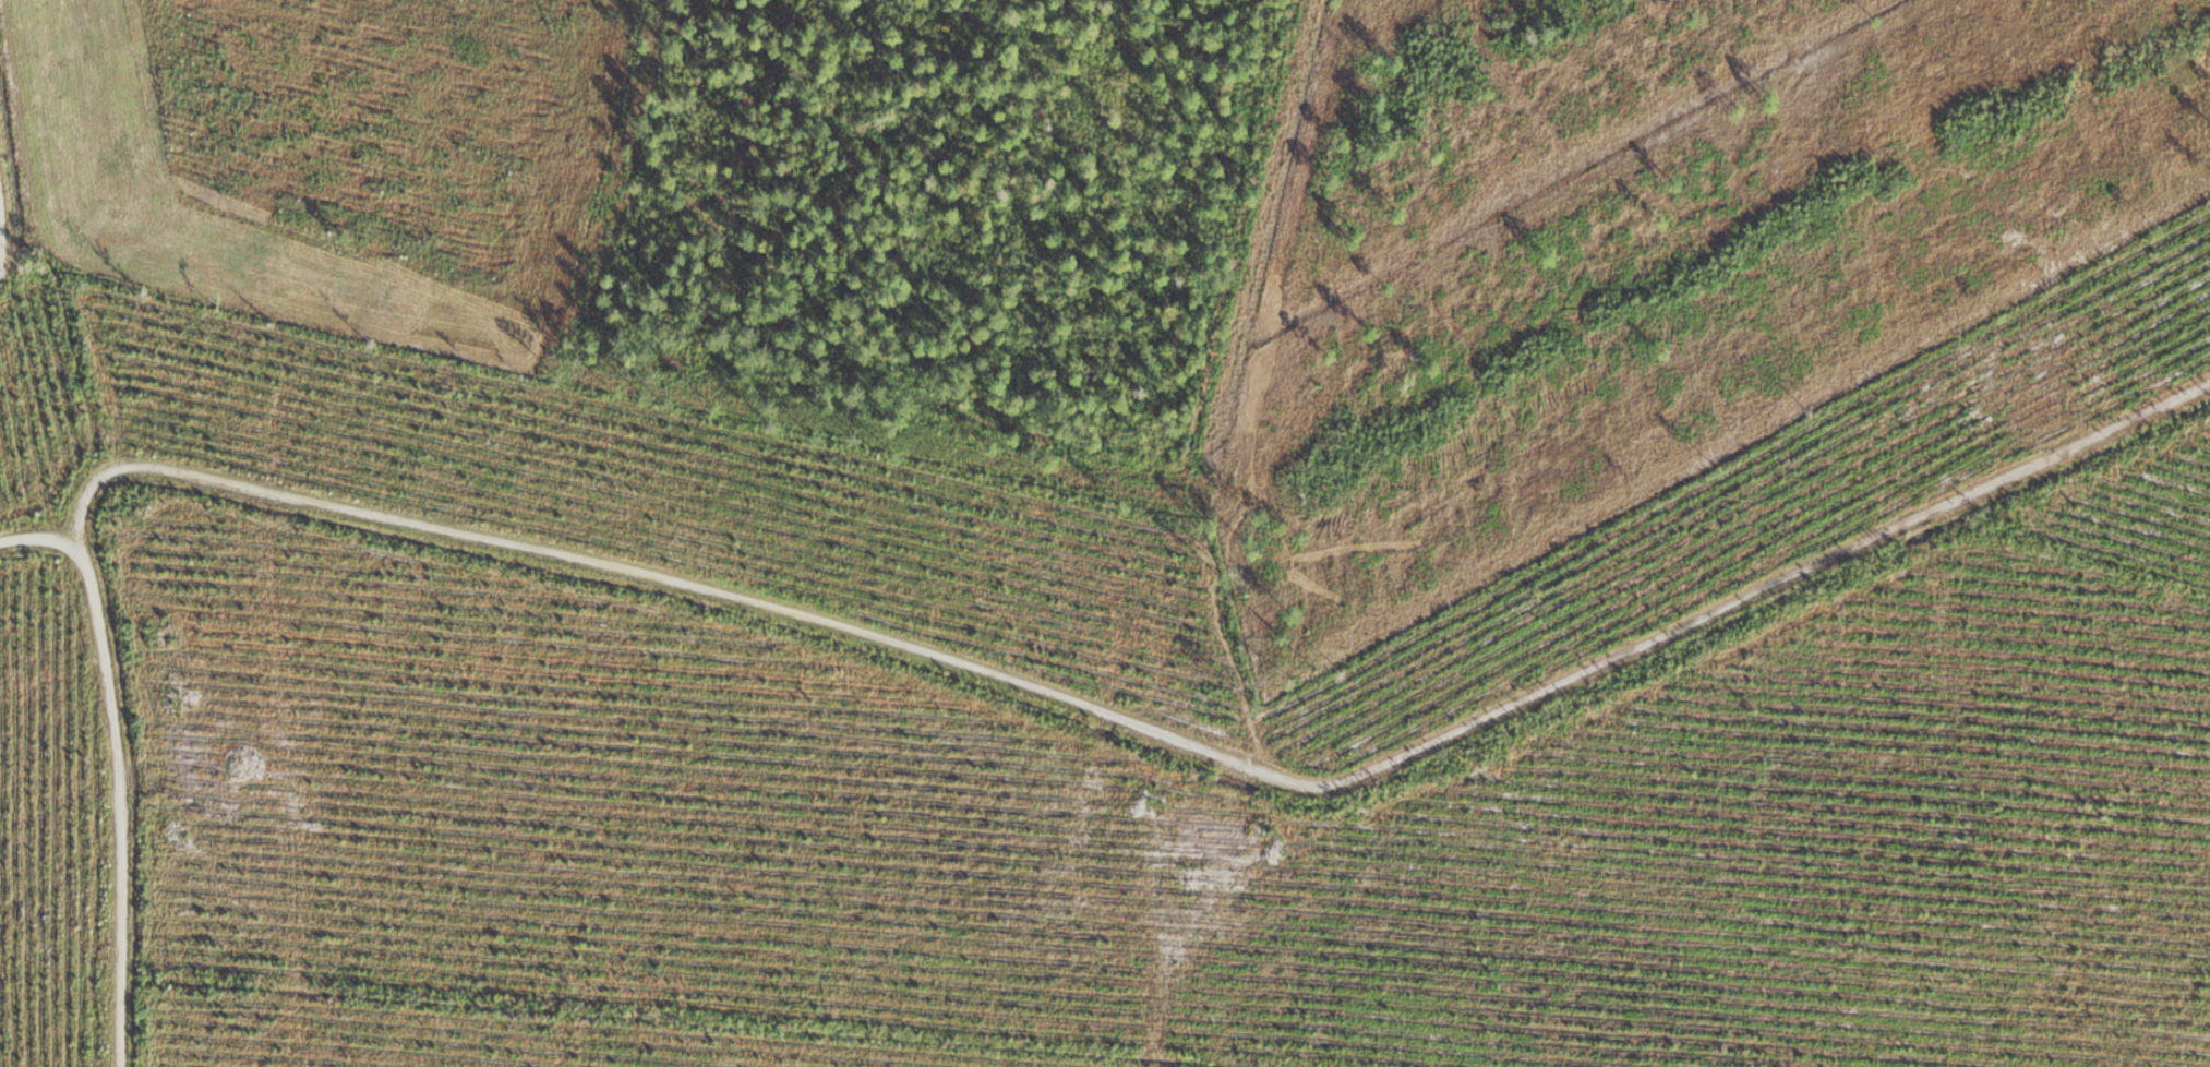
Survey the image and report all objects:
road: (29, 602)
road: (923, 729)

